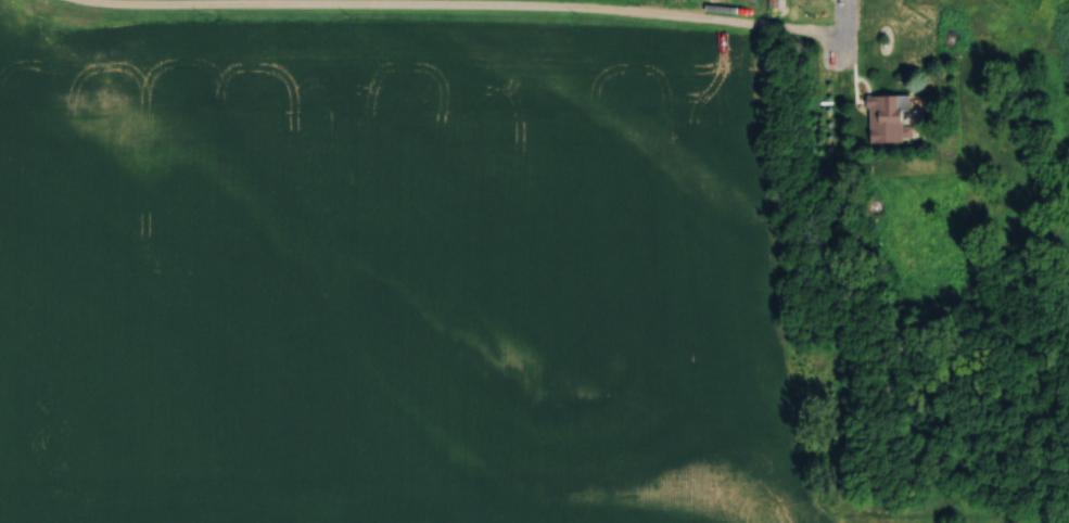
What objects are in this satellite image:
building: (780, 2)
road: (442, 11)
building: (899, 106)

